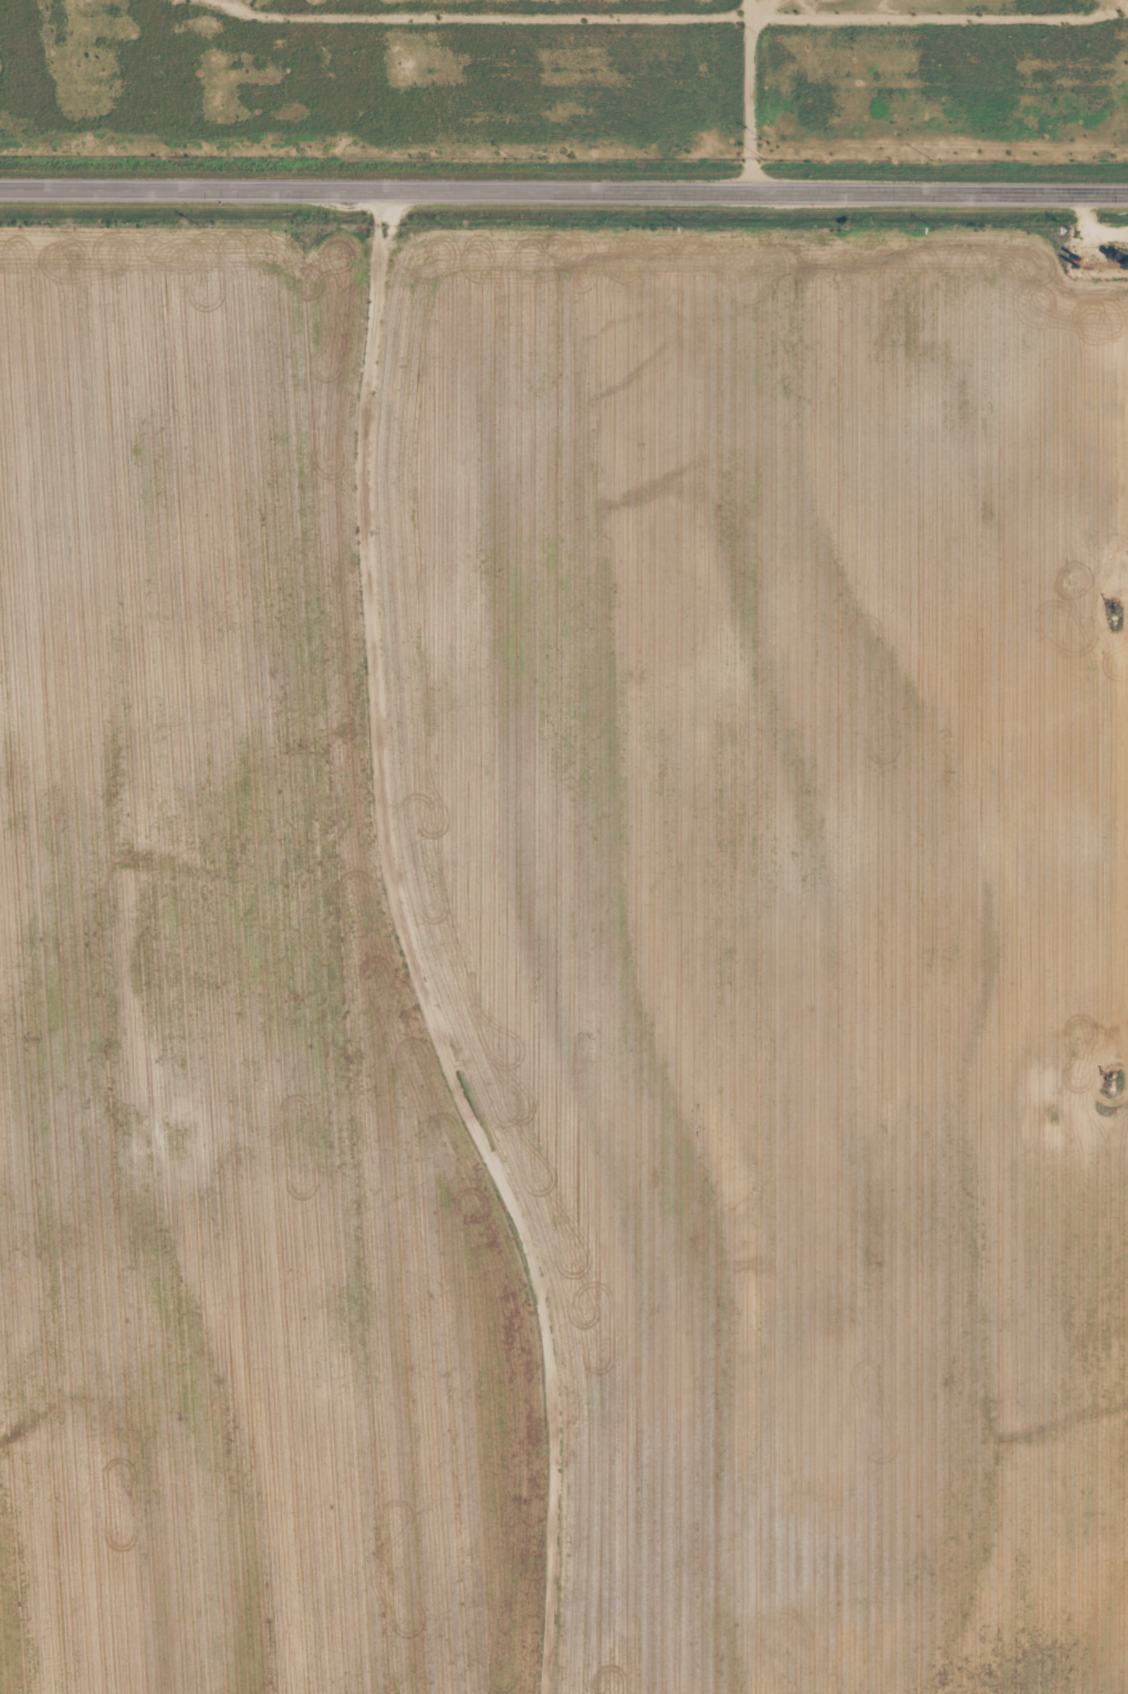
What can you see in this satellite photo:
road: (187, 40)
road: (564, 81)
road: (731, 96)
road: (564, 189)
road: (389, 641)

